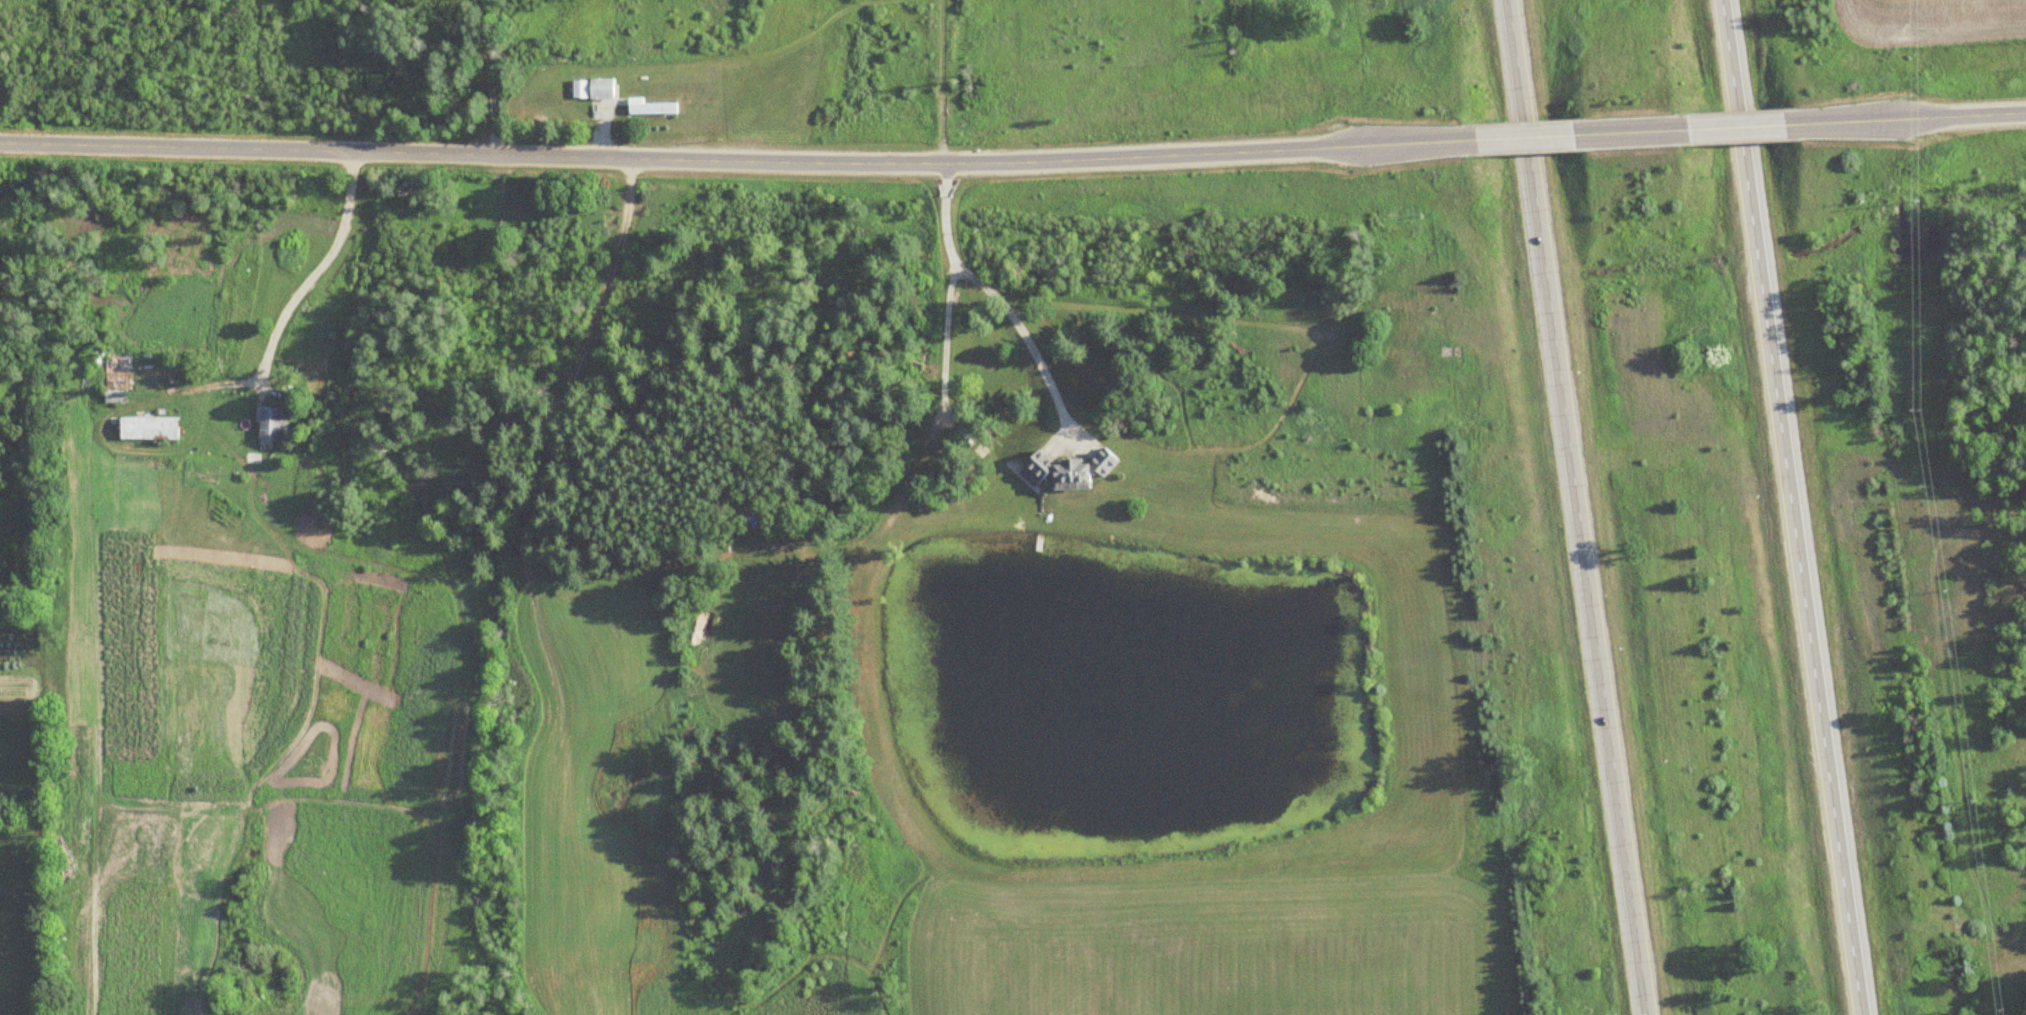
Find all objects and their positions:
building: (587, 90)
building: (648, 108)
road: (1912, 119)
road: (1739, 128)
road: (1632, 132)
road: (1522, 137)
road: (729, 160)
road: (1000, 298)
building: (111, 379)
building: (266, 425)
building: (144, 429)
building: (1063, 472)
road: (1578, 507)
road: (1783, 507)
crop: (588, 790)
crop: (1213, 951)

